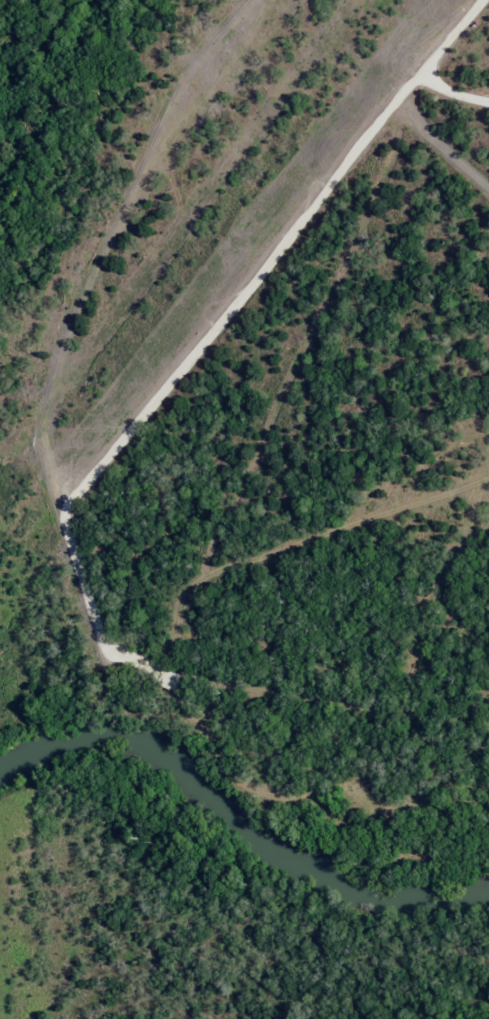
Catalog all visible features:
river: (233, 834)

